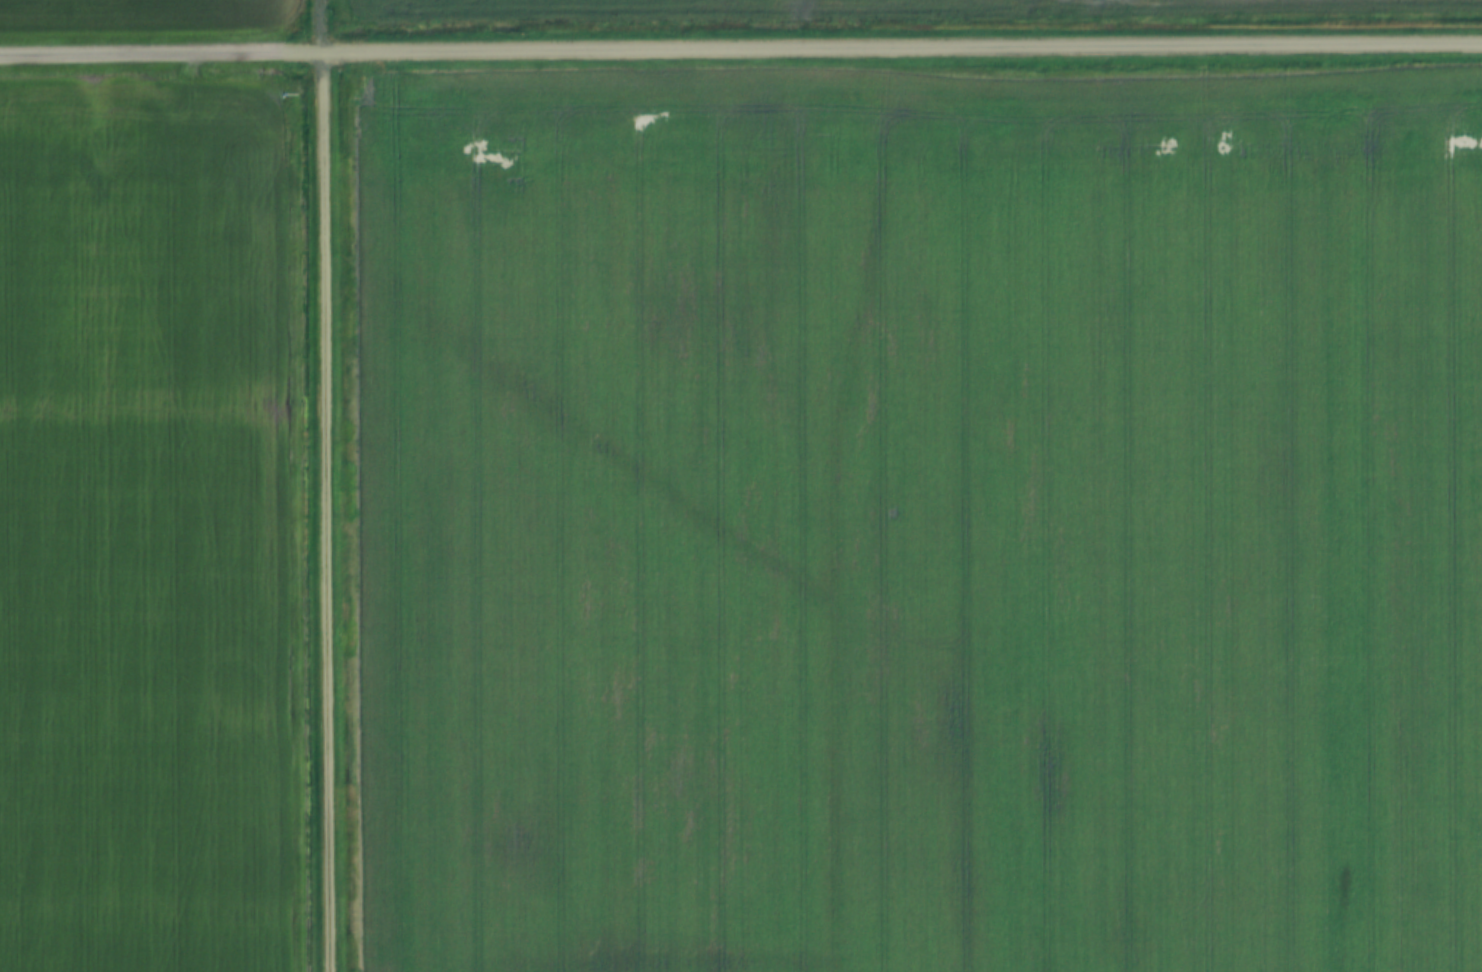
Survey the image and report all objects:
road: (740, 47)
road: (330, 486)

